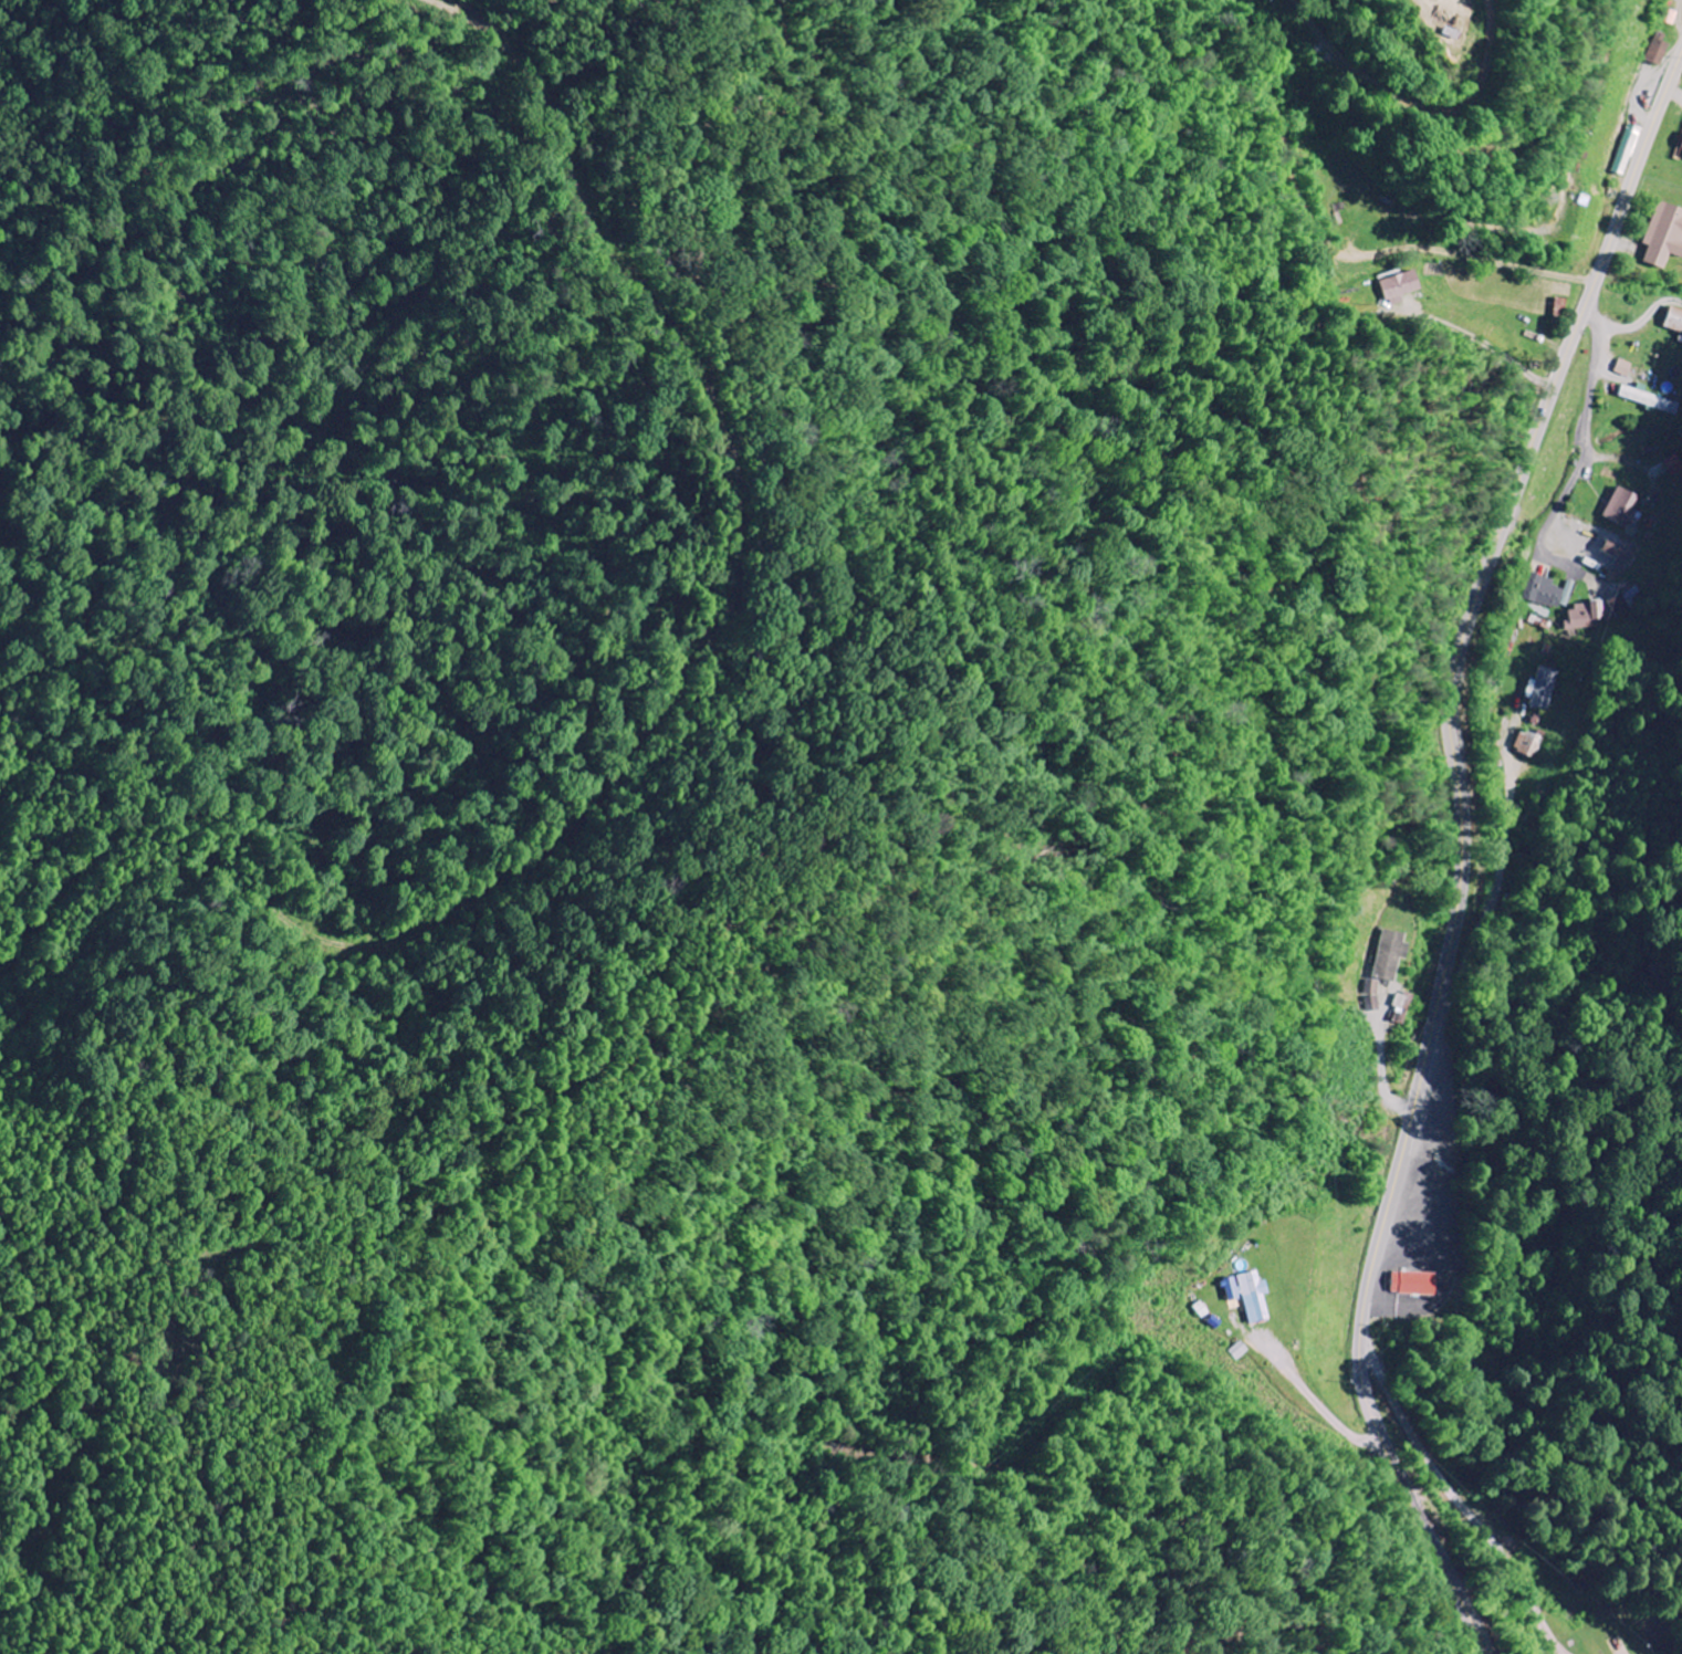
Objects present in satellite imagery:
building: (1670, 18)
building: (1660, 52)
building: (1630, 151)
building: (1665, 237)
building: (1402, 287)
building: (1675, 321)
building: (1624, 369)
building: (1648, 399)
road: (1589, 439)
building: (1623, 507)
building: (1620, 556)
building: (1543, 592)
building: (1568, 593)
building: (1626, 603)
building: (1586, 617)
building: (1544, 689)
building: (1530, 744)
road: (1462, 855)
road: (1495, 893)
building: (1392, 955)
building: (1417, 1285)
building: (1250, 1296)
building: (1241, 1351)
road: (1458, 1497)

